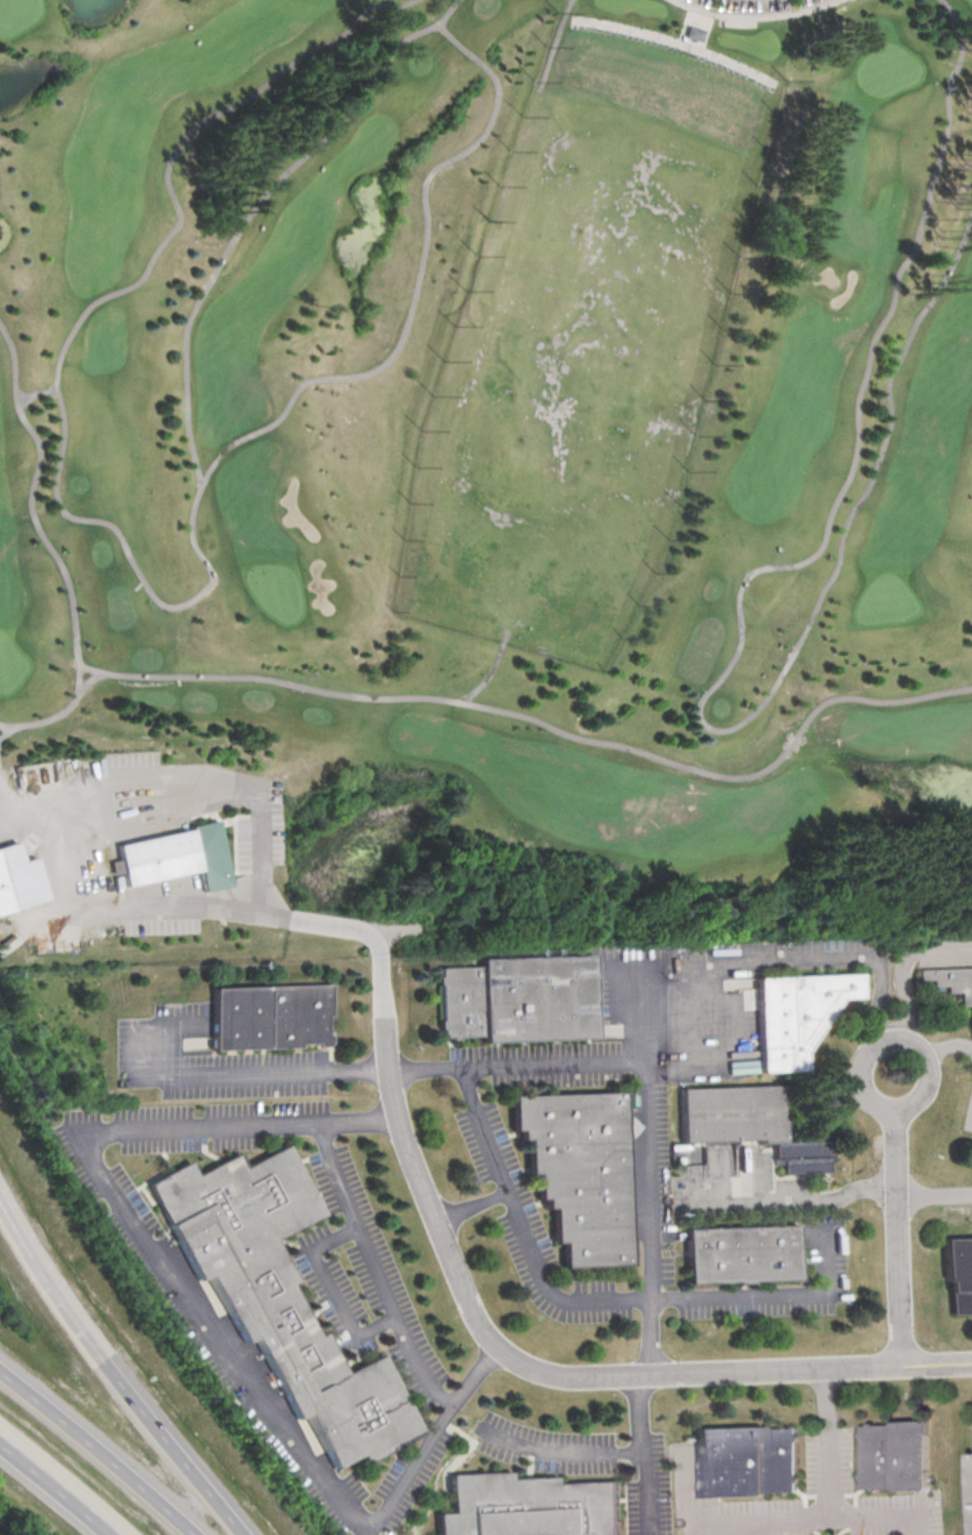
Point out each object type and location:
parking lot: (755, 6)
road: (758, 19)
building: (696, 34)
road: (556, 44)
road: (257, 209)
road: (38, 394)
park: (482, 475)
road: (143, 584)
road: (729, 628)
road: (480, 676)
road: (85, 681)
road: (365, 698)
road: (54, 715)
road: (3, 729)
road: (190, 787)
road: (3, 804)
building: (207, 856)
building: (153, 858)
road: (55, 861)
building: (17, 881)
road: (199, 908)
road: (805, 956)
road: (903, 965)
building: (951, 980)
road: (698, 991)
building: (519, 999)
building: (795, 1014)
building: (267, 1016)
road: (893, 1038)
road: (949, 1046)
parking lot: (205, 1061)
road: (555, 1061)
road: (283, 1071)
road: (359, 1120)
building: (750, 1122)
road: (109, 1130)
parking lot: (490, 1145)
road: (651, 1167)
building: (581, 1172)
road: (936, 1194)
road: (803, 1199)
road: (474, 1205)
road: (17, 1218)
road: (17, 1224)
road: (526, 1229)
road: (902, 1236)
building: (744, 1254)
building: (962, 1275)
road: (332, 1287)
building: (280, 1297)
road: (773, 1297)
parking lot: (372, 1321)
road: (523, 1362)
road: (127, 1385)
road: (825, 1397)
road: (642, 1413)
road: (431, 1436)
road: (98, 1448)
road: (605, 1451)
building: (895, 1455)
building: (747, 1460)
parking lot: (592, 1463)
road: (829, 1471)
road: (57, 1486)
building: (969, 1488)
parking lot: (833, 1500)
building: (529, 1506)
road: (840, 1515)
road: (707, 1521)
road: (237, 1524)
road: (737, 1527)

